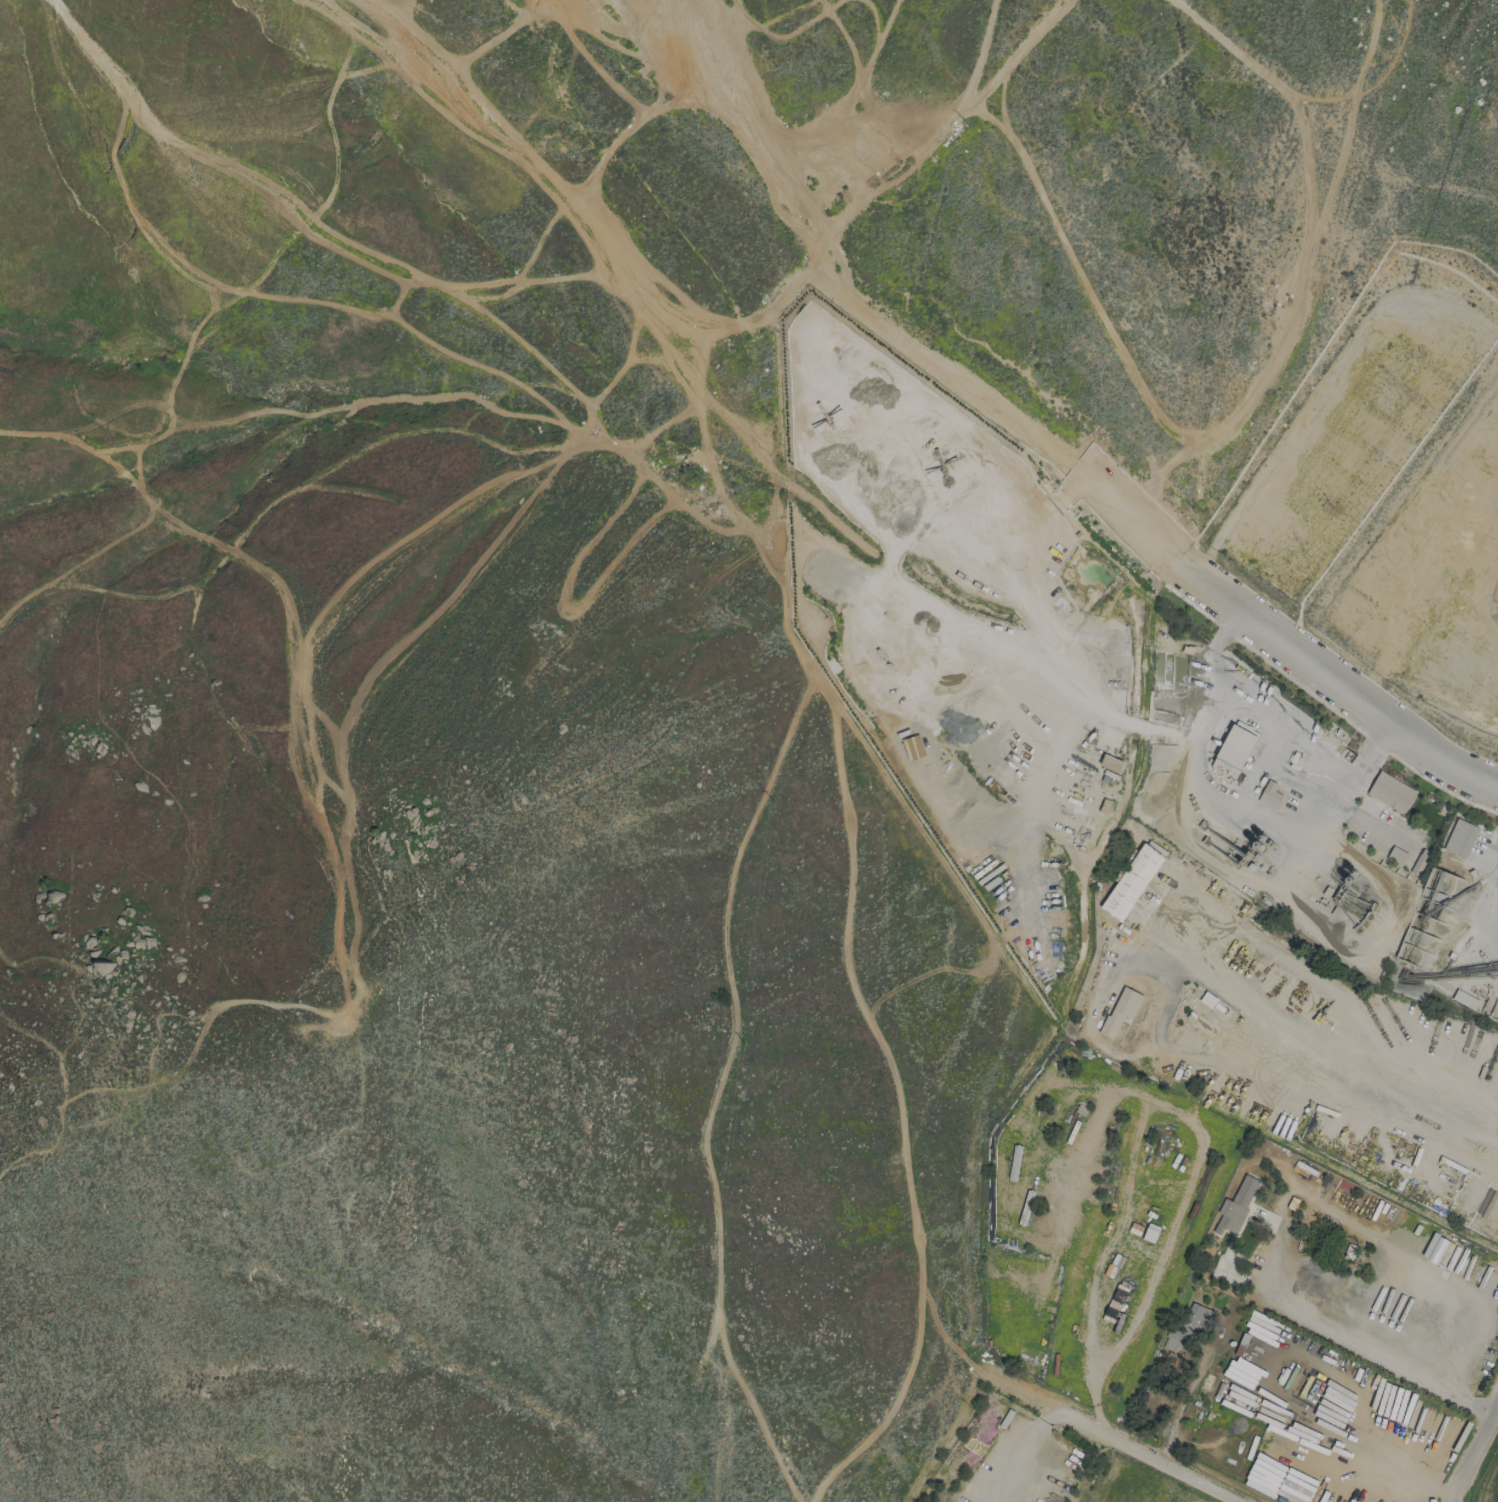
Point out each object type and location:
road: (564, 224)
road: (863, 314)
road: (305, 645)
road: (1336, 680)
building: (1234, 748)
road: (1320, 757)
building: (1110, 763)
quarry: (1163, 771)
road: (1288, 781)
building: (1390, 792)
building: (1269, 794)
building: (1460, 838)
road: (1207, 854)
building: (1131, 880)
road: (849, 936)
building: (1464, 999)
building: (1120, 1010)
road: (98, 1088)
building: (1235, 1205)
building: (1190, 1324)
road: (1355, 1344)
road: (1477, 1406)
road: (911, 1421)
road: (944, 1438)
road: (1118, 1438)
road: (1468, 1443)
road: (1402, 1476)

